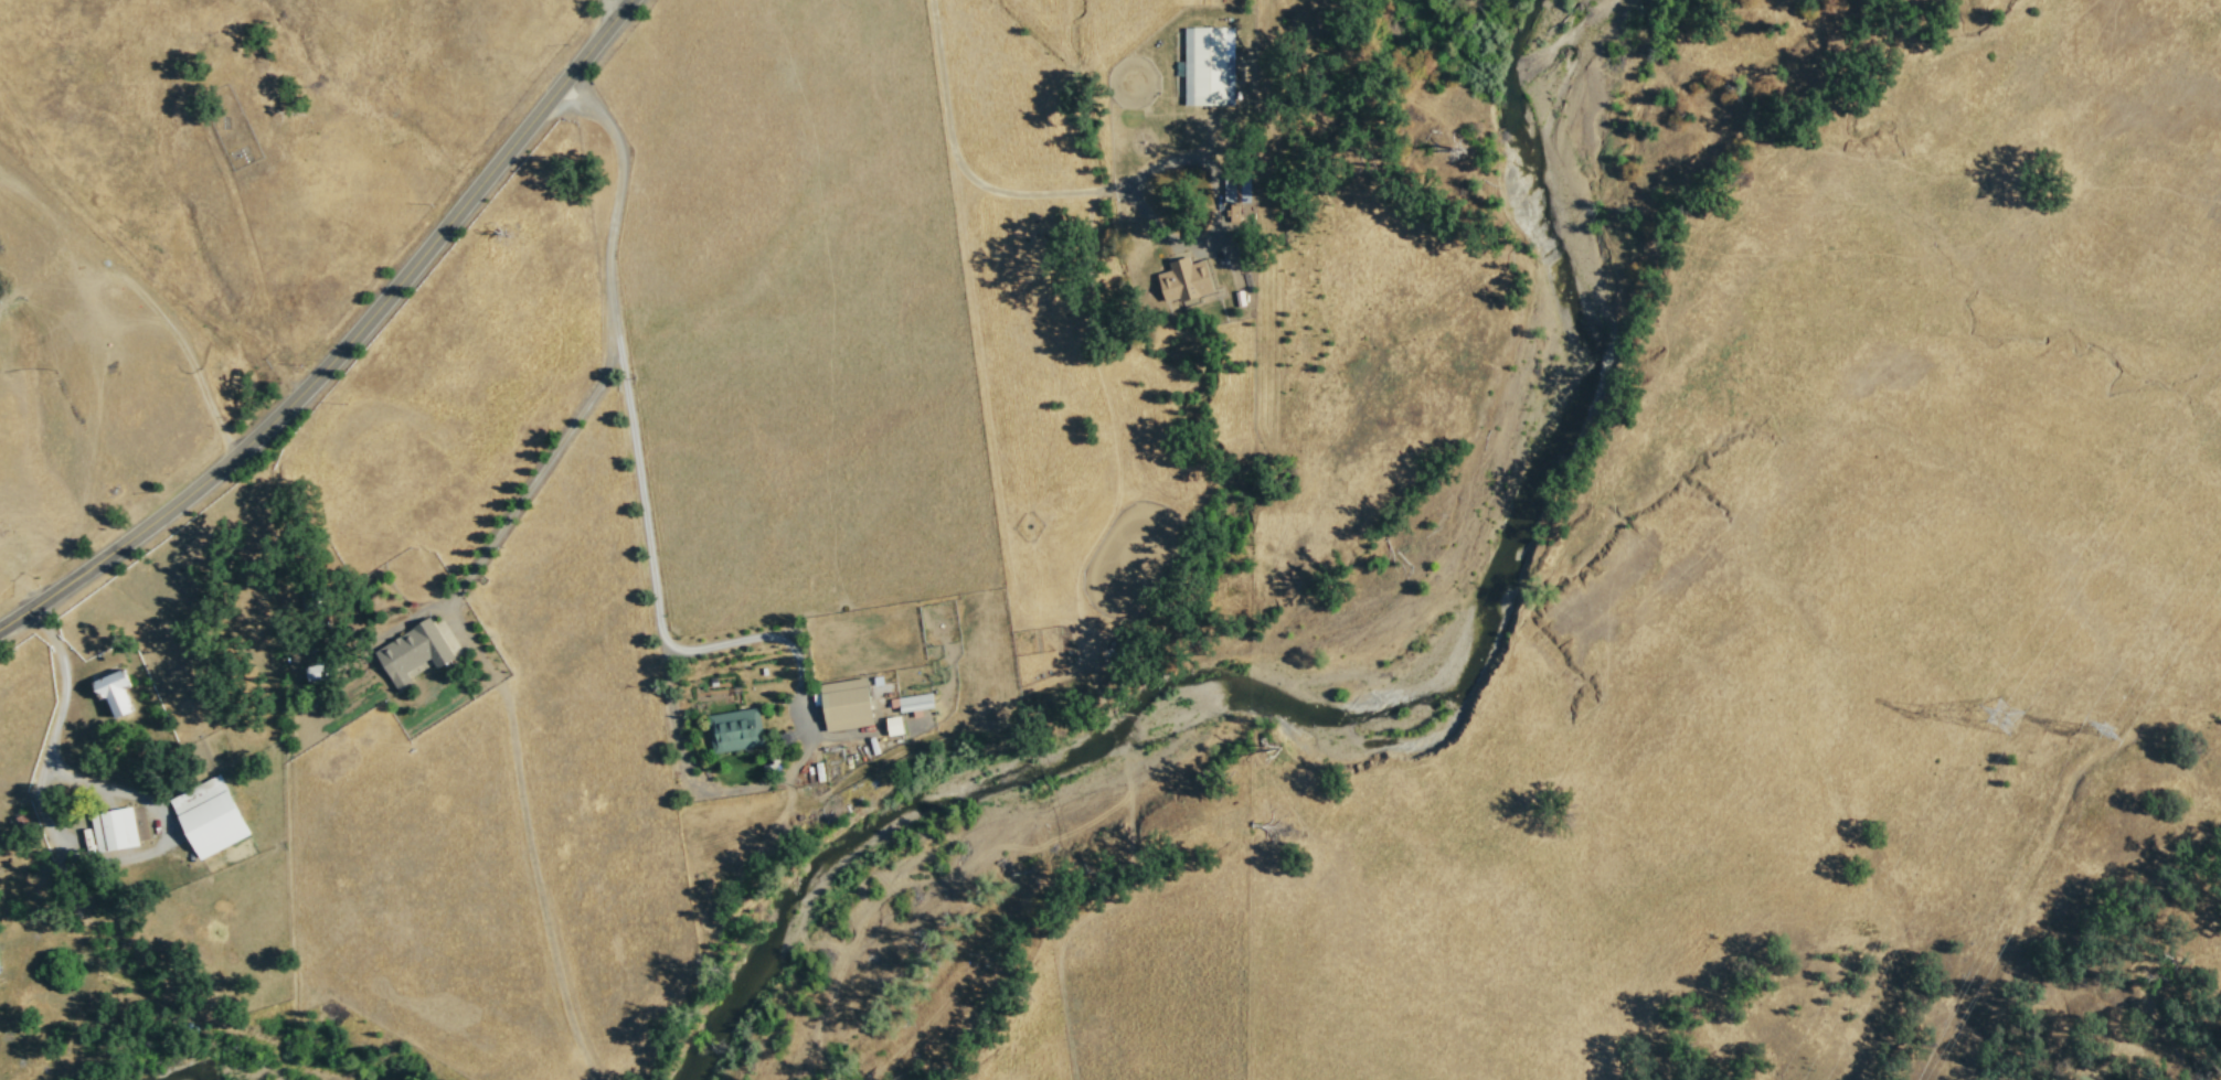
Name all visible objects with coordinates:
building: (1208, 66)
crop: (796, 311)
road: (344, 342)
river: (1516, 523)
road: (1011, 571)
building: (412, 652)
building: (114, 691)
building: (914, 702)
building: (844, 704)
power tower: (1998, 718)
building: (893, 725)
building: (735, 730)
power tower: (2103, 731)
building: (209, 815)
building: (113, 828)
river: (846, 834)
river: (219, 1067)

